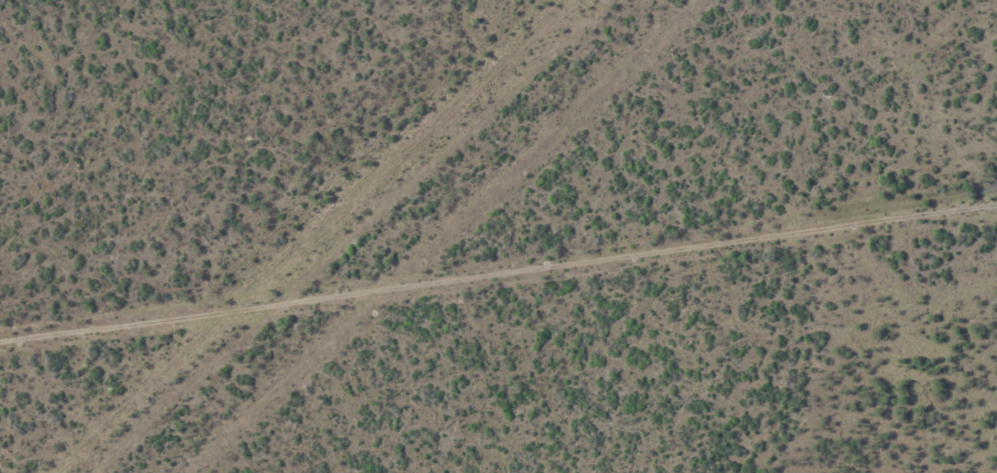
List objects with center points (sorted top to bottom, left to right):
road: (498, 299)

